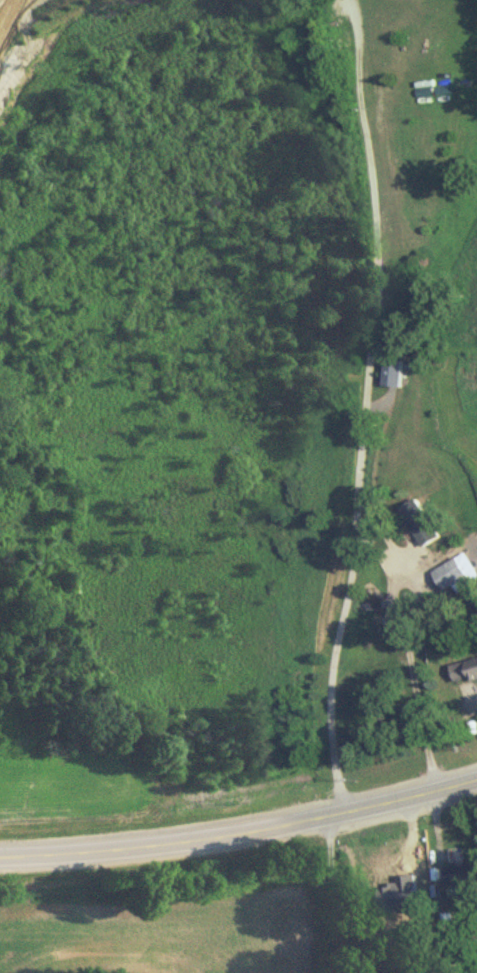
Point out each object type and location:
road: (365, 407)
building: (420, 521)
building: (453, 576)
building: (472, 670)
road: (414, 684)
road: (241, 833)
building: (398, 864)
building: (462, 875)
road: (331, 896)

